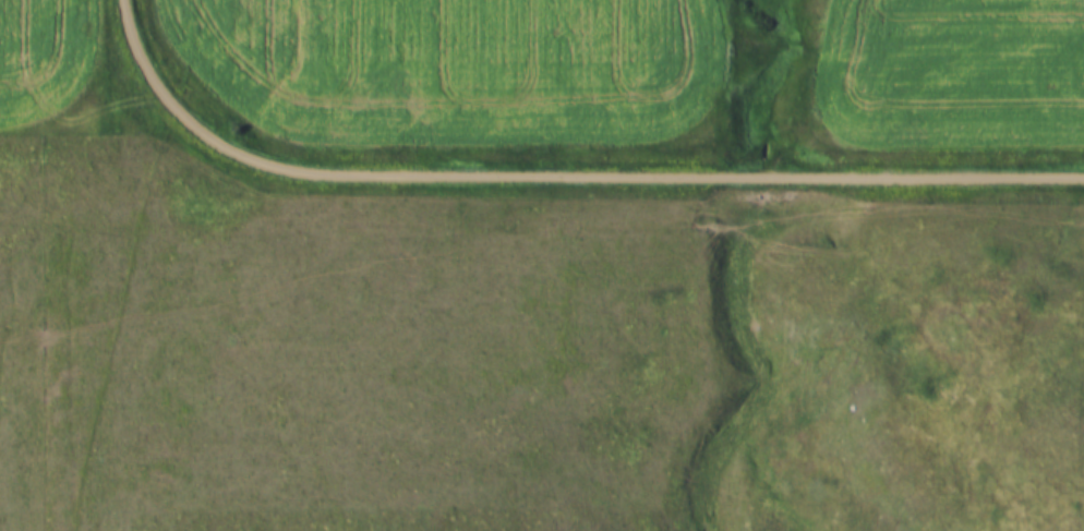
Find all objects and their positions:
crop: (43, 61)
crop: (459, 69)
crop: (952, 74)
road: (562, 170)

